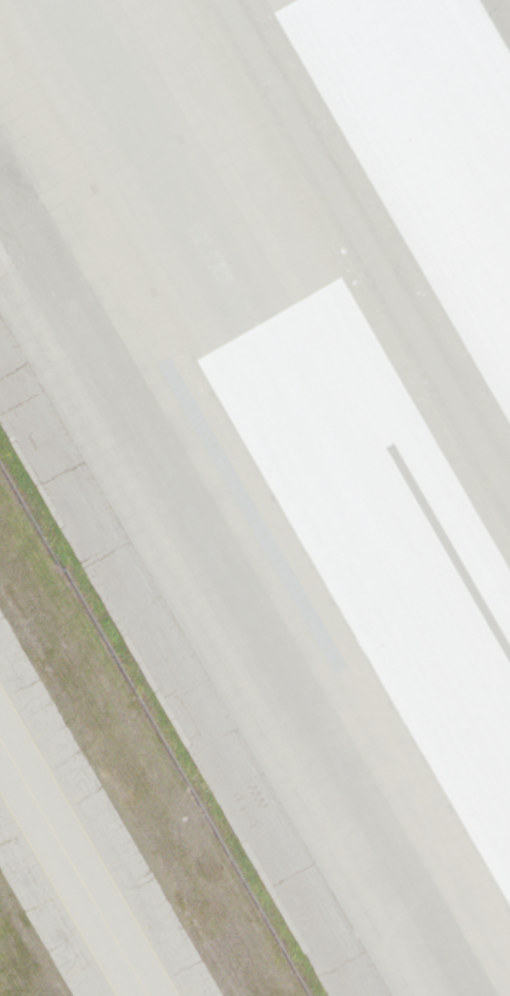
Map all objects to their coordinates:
building: (226, 325)
airport: (255, 498)
airport apron: (255, 498)
airport taxiway: (73, 868)

